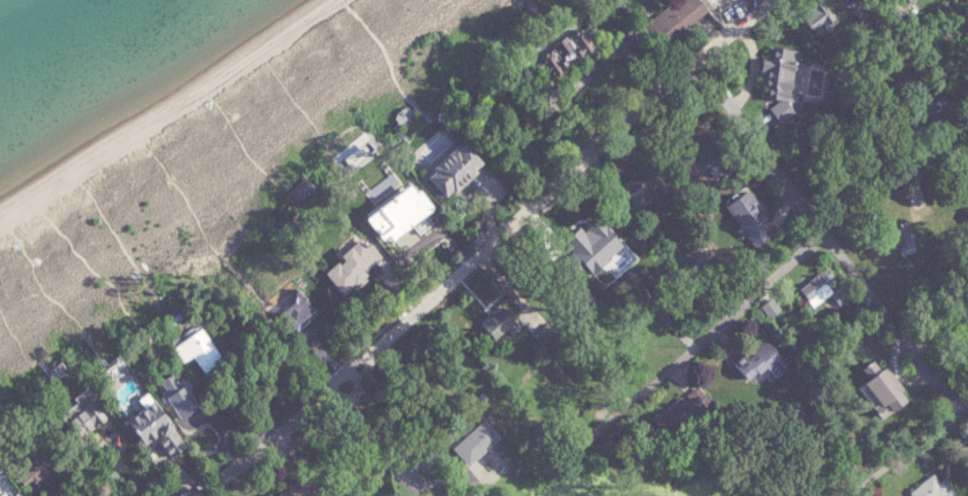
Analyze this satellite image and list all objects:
road: (534, 2)
building: (680, 20)
road: (379, 45)
building: (571, 52)
building: (787, 74)
building: (546, 105)
road: (302, 107)
building: (787, 111)
road: (245, 150)
building: (456, 170)
building: (647, 186)
building: (306, 189)
road: (569, 190)
road: (183, 196)
building: (754, 217)
building: (403, 220)
building: (907, 238)
building: (600, 239)
road: (120, 240)
road: (830, 240)
building: (698, 259)
road: (96, 265)
building: (361, 265)
road: (780, 268)
building: (827, 289)
road: (46, 291)
building: (297, 307)
building: (773, 308)
building: (504, 324)
road: (16, 333)
building: (967, 340)
building: (199, 349)
building: (765, 361)
building: (891, 385)
building: (184, 394)
building: (686, 411)
building: (89, 414)
road: (957, 417)
building: (161, 427)
building: (481, 441)
road: (283, 445)
road: (384, 457)
building: (36, 469)
road: (82, 487)
building: (937, 487)
building: (305, 489)
building: (22, 495)

